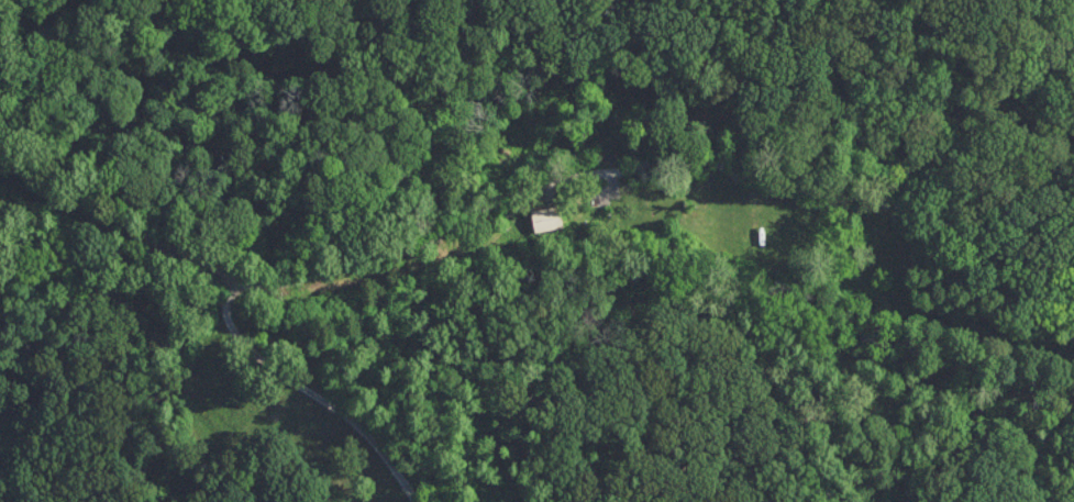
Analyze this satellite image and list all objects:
road: (528, 199)
building: (546, 216)
road: (310, 389)

